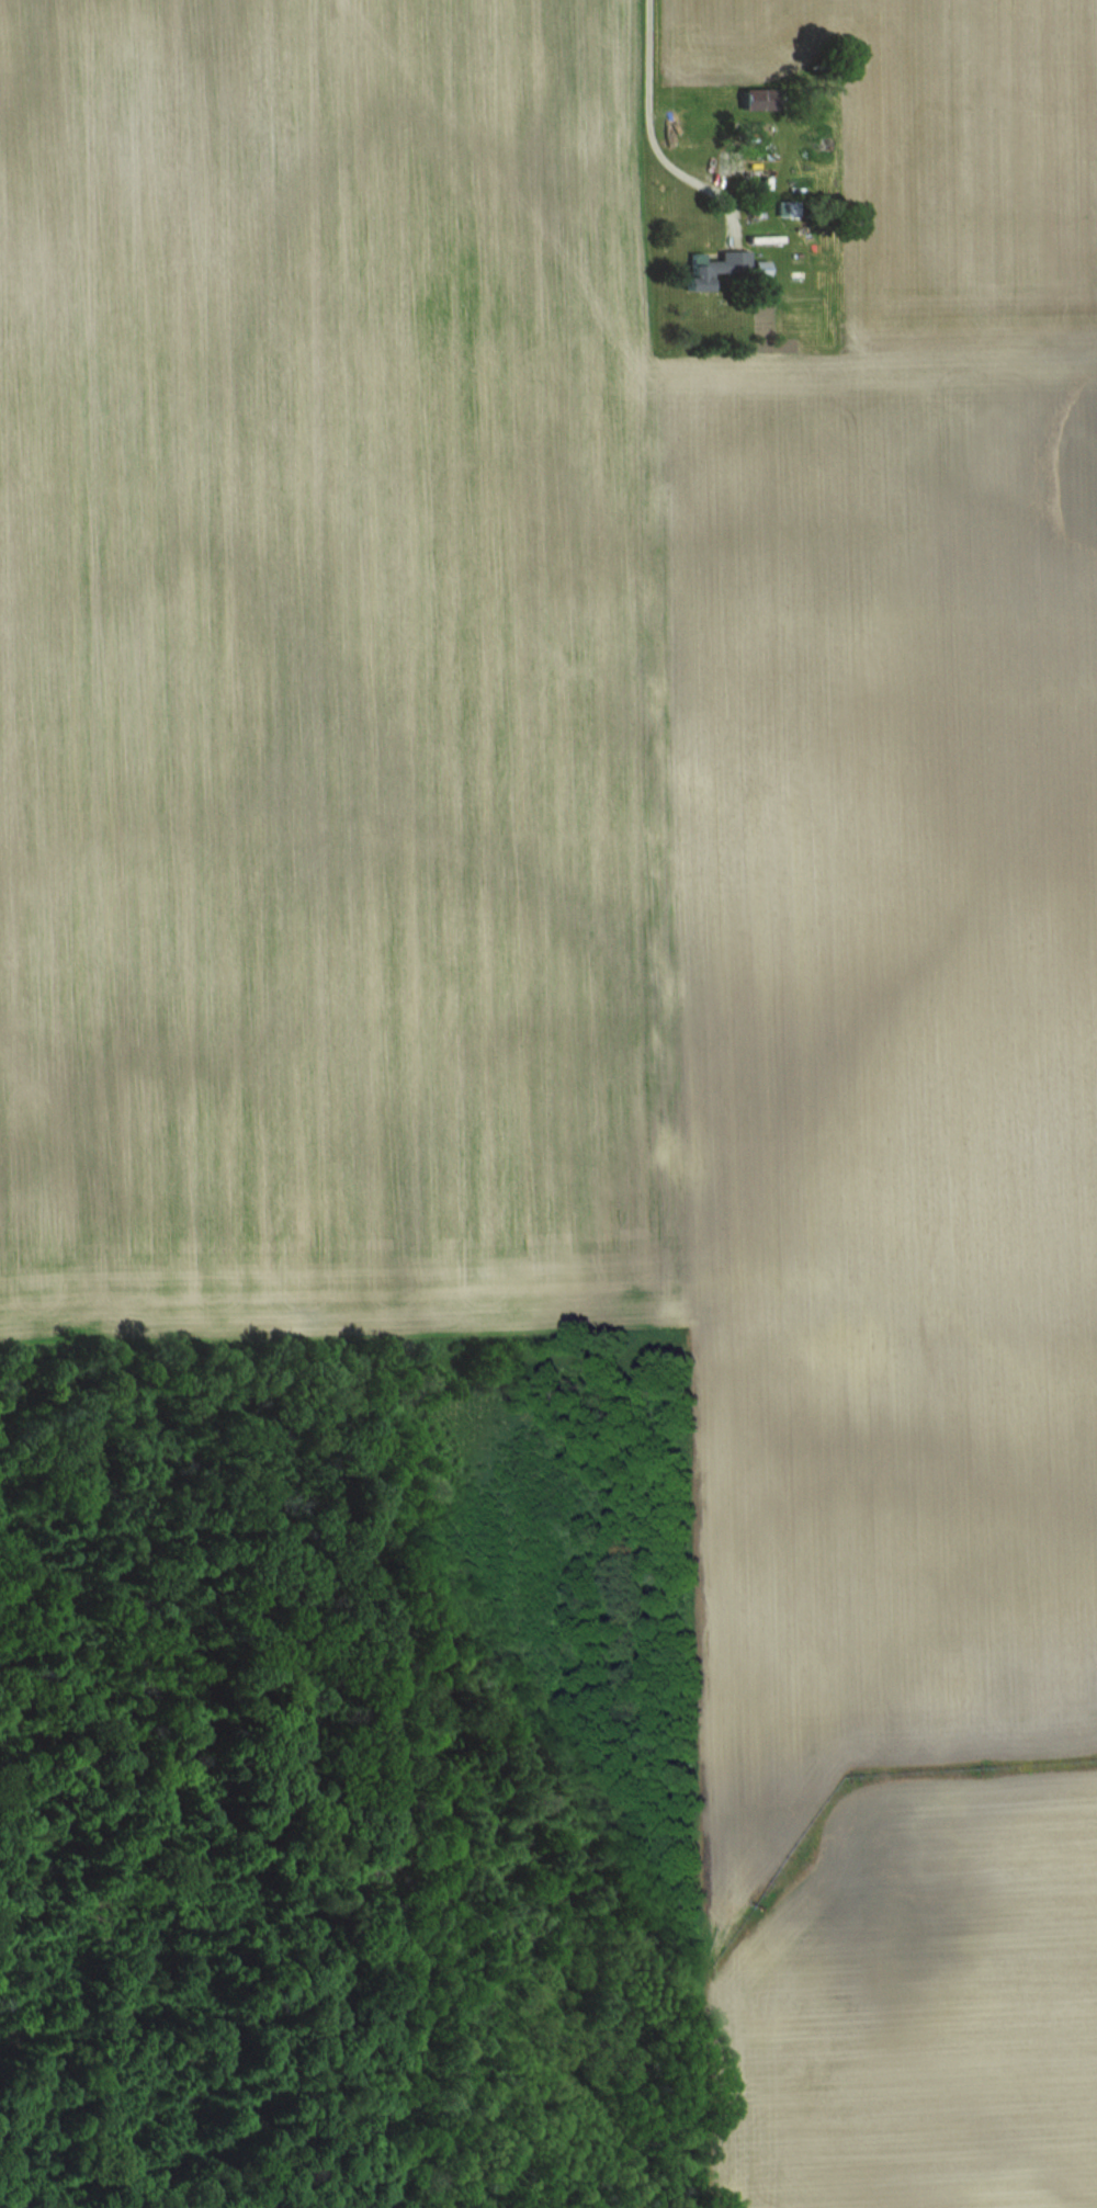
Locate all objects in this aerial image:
building: (754, 99)
road: (651, 120)
building: (712, 269)

